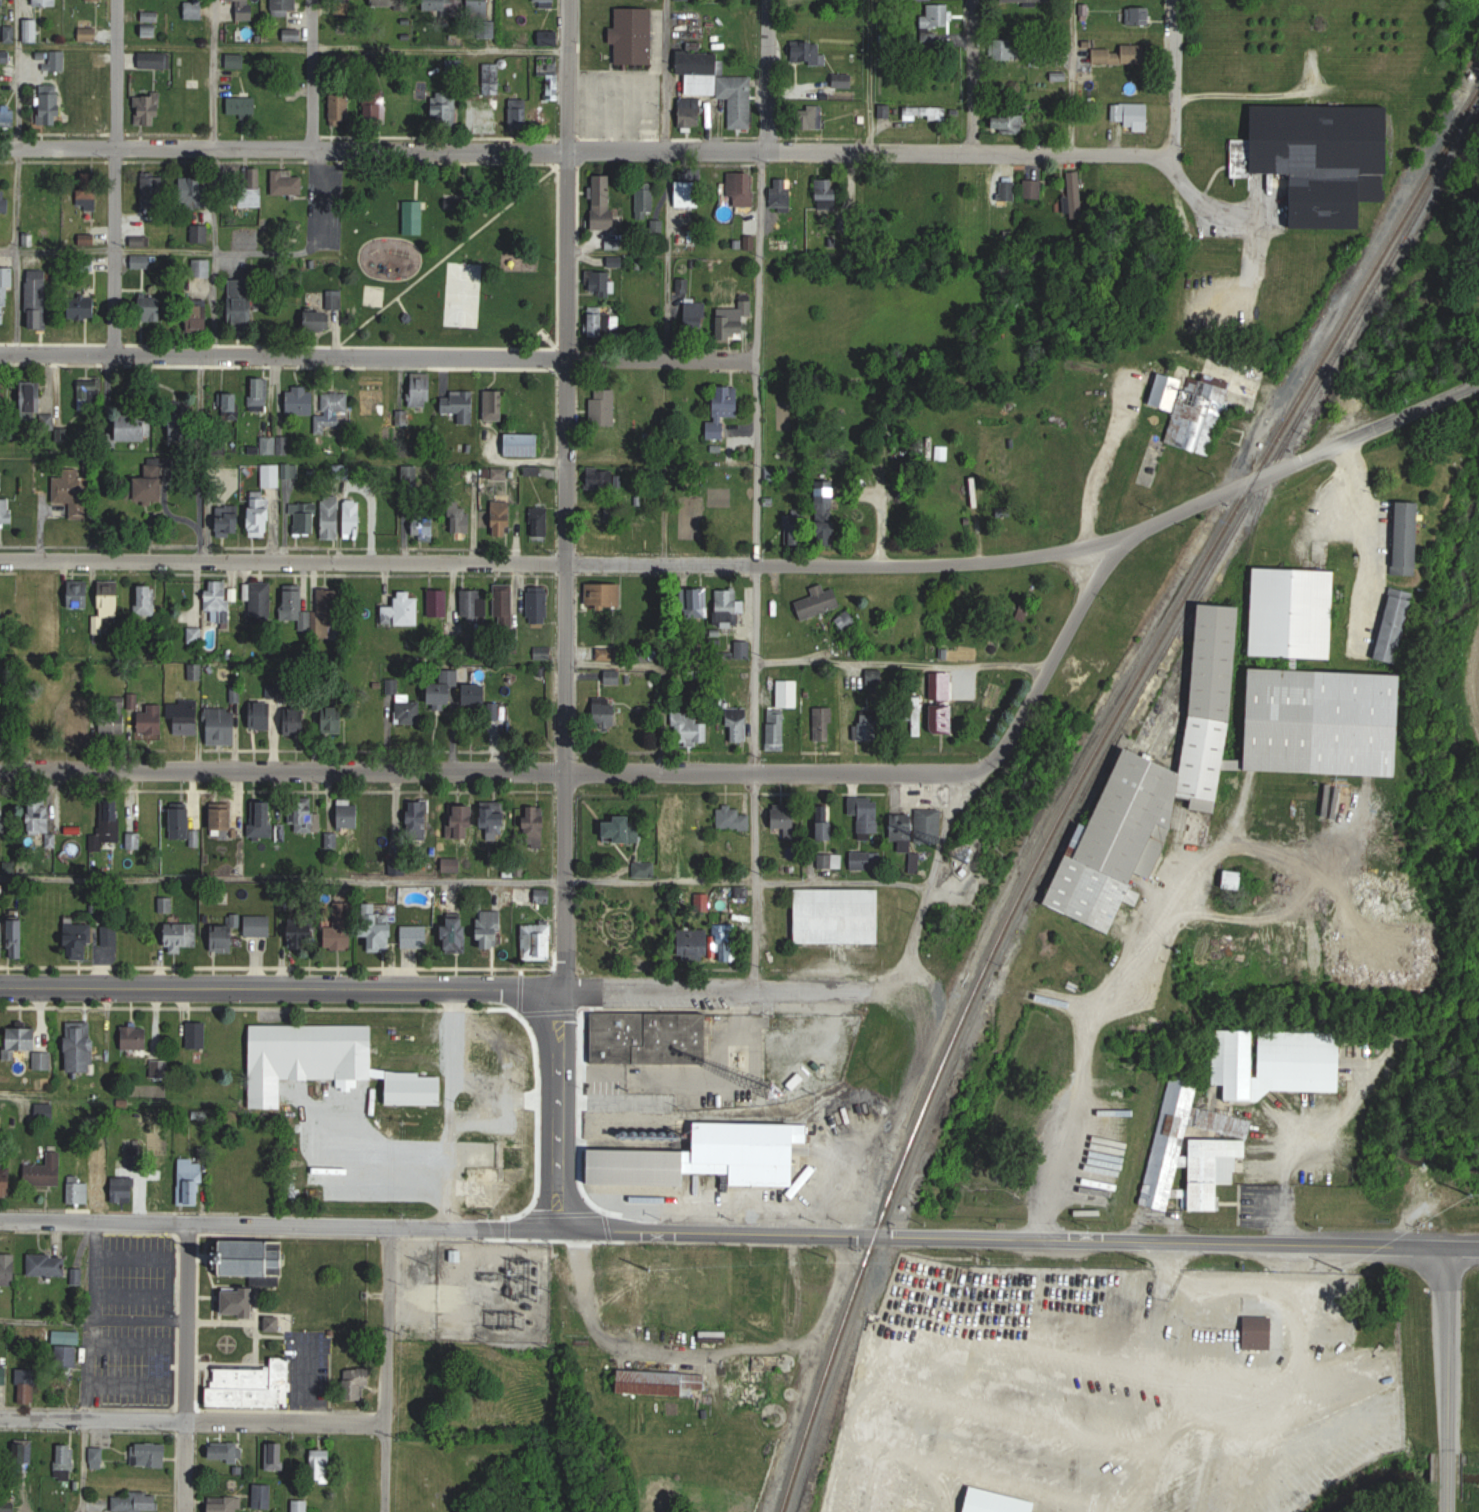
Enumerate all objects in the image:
building: (546, 1)
building: (46, 2)
building: (391, 4)
building: (286, 5)
building: (195, 9)
building: (245, 9)
building: (937, 15)
building: (1139, 15)
building: (151, 16)
road: (18, 22)
building: (32, 30)
building: (150, 31)
building: (89, 34)
building: (633, 36)
building: (549, 37)
road: (284, 47)
building: (1008, 49)
building: (807, 52)
building: (1123, 54)
building: (6, 57)
building: (155, 60)
building: (235, 60)
building: (57, 61)
road: (215, 73)
road: (312, 74)
road: (667, 74)
road: (765, 74)
road: (871, 74)
road: (974, 74)
road: (1073, 75)
road: (1176, 78)
building: (844, 80)
building: (718, 85)
road: (18, 95)
building: (196, 101)
building: (51, 105)
building: (375, 105)
building: (242, 106)
building: (341, 106)
building: (411, 107)
building: (446, 107)
building: (149, 110)
building: (95, 112)
building: (691, 112)
building: (925, 113)
building: (1131, 114)
building: (813, 117)
building: (8, 118)
building: (1006, 124)
building: (1317, 141)
road: (586, 149)
road: (116, 176)
building: (288, 183)
building: (1075, 186)
building: (153, 187)
building: (251, 187)
building: (742, 189)
building: (1034, 189)
building: (1009, 190)
building: (3, 191)
building: (195, 191)
building: (828, 193)
building: (869, 193)
building: (782, 194)
building: (689, 195)
road: (17, 198)
road: (216, 201)
building: (645, 204)
road: (1209, 204)
building: (604, 211)
building: (415, 217)
building: (88, 239)
park: (449, 253)
road: (205, 254)
road: (667, 254)
building: (145, 261)
building: (202, 267)
building: (600, 282)
railway: (1369, 292)
building: (39, 300)
building: (242, 302)
road: (217, 304)
building: (151, 308)
building: (84, 311)
building: (696, 315)
building: (199, 317)
building: (318, 320)
building: (597, 322)
building: (734, 325)
road: (376, 355)
road: (568, 387)
building: (421, 388)
building: (4, 392)
building: (258, 394)
building: (34, 397)
building: (302, 400)
building: (1346, 401)
building: (494, 404)
building: (1202, 405)
building: (334, 406)
building: (461, 406)
building: (725, 411)
building: (135, 428)
building: (182, 429)
railway: (1287, 437)
railway: (1284, 438)
building: (524, 444)
building: (943, 453)
road: (665, 461)
road: (1302, 461)
road: (1104, 464)
road: (186, 467)
building: (501, 473)
building: (272, 475)
building: (1, 480)
building: (605, 480)
building: (152, 490)
building: (73, 492)
building: (825, 499)
building: (612, 511)
building: (6, 513)
building: (262, 517)
building: (503, 518)
building: (354, 519)
building: (461, 519)
road: (1361, 519)
building: (307, 520)
building: (333, 520)
building: (541, 522)
building: (230, 524)
building: (424, 526)
building: (794, 530)
building: (1410, 538)
railway: (1246, 545)
road: (564, 562)
road: (755, 568)
building: (80, 593)
building: (610, 594)
building: (111, 597)
building: (148, 599)
building: (220, 599)
building: (262, 599)
building: (645, 600)
building: (439, 601)
building: (820, 601)
building: (699, 603)
building: (540, 605)
building: (505, 606)
building: (727, 608)
building: (474, 609)
building: (403, 610)
building: (1294, 611)
building: (848, 620)
building: (1397, 624)
building: (543, 652)
railway: (1161, 653)
building: (607, 654)
road: (901, 665)
building: (613, 677)
building: (445, 687)
building: (476, 693)
building: (788, 693)
building: (262, 713)
building: (606, 715)
building: (297, 717)
building: (944, 717)
building: (186, 718)
building: (335, 718)
building: (152, 719)
building: (824, 721)
building: (77, 722)
building: (113, 723)
building: (919, 723)
building: (738, 724)
building: (222, 725)
building: (871, 726)
building: (691, 728)
building: (776, 730)
building: (1231, 755)
road: (279, 770)
road: (906, 772)
railway: (1082, 778)
building: (419, 812)
building: (349, 813)
building: (1, 815)
building: (307, 815)
building: (266, 816)
building: (868, 816)
building: (225, 818)
building: (788, 818)
building: (43, 820)
building: (467, 820)
building: (181, 822)
building: (499, 822)
building: (109, 825)
building: (674, 825)
building: (918, 825)
building: (625, 828)
building: (535, 829)
building: (825, 829)
building: (830, 860)
building: (865, 860)
building: (645, 868)
building: (1235, 878)
road: (529, 880)
road: (566, 881)
building: (533, 895)
building: (839, 915)
building: (259, 925)
building: (490, 928)
building: (303, 929)
building: (456, 932)
building: (226, 934)
building: (341, 934)
building: (381, 934)
building: (417, 935)
building: (182, 936)
building: (19, 937)
building: (4, 938)
building: (538, 941)
building: (92, 942)
building: (591, 947)
road: (908, 947)
building: (731, 948)
road: (283, 985)
road: (718, 989)
building: (198, 1034)
road: (1086, 1035)
building: (136, 1037)
building: (651, 1037)
building: (24, 1038)
building: (494, 1040)
building: (81, 1046)
building: (324, 1046)
building: (1278, 1061)
building: (160, 1068)
building: (416, 1089)
road: (449, 1106)
road: (566, 1110)
building: (1195, 1150)
building: (712, 1157)
building: (46, 1173)
building: (191, 1180)
building: (100, 1181)
building: (8, 1185)
building: (161, 1187)
building: (1000, 1187)
building: (124, 1188)
building: (230, 1190)
road: (283, 1222)
road: (1022, 1239)
building: (263, 1260)
building: (823, 1263)
building: (49, 1264)
building: (8, 1271)
building: (629, 1281)
power substation: (494, 1289)
building: (241, 1300)
road: (1157, 1305)
road: (46, 1319)
road: (92, 1320)
building: (276, 1321)
building: (1260, 1331)
road: (701, 1350)
building: (67, 1356)
road: (186, 1366)
road: (386, 1368)
building: (4, 1376)
road: (306, 1380)
building: (357, 1382)
building: (661, 1382)
road: (1447, 1382)
building: (28, 1385)
building: (253, 1385)
road: (192, 1420)
building: (224, 1451)
building: (150, 1454)
building: (25, 1455)
building: (275, 1455)
building: (98, 1457)
building: (360, 1460)
building: (66, 1461)
building: (322, 1465)
road: (85, 1466)
building: (263, 1495)
building: (136, 1501)
building: (999, 1502)
building: (224, 1503)
building: (301, 1506)

